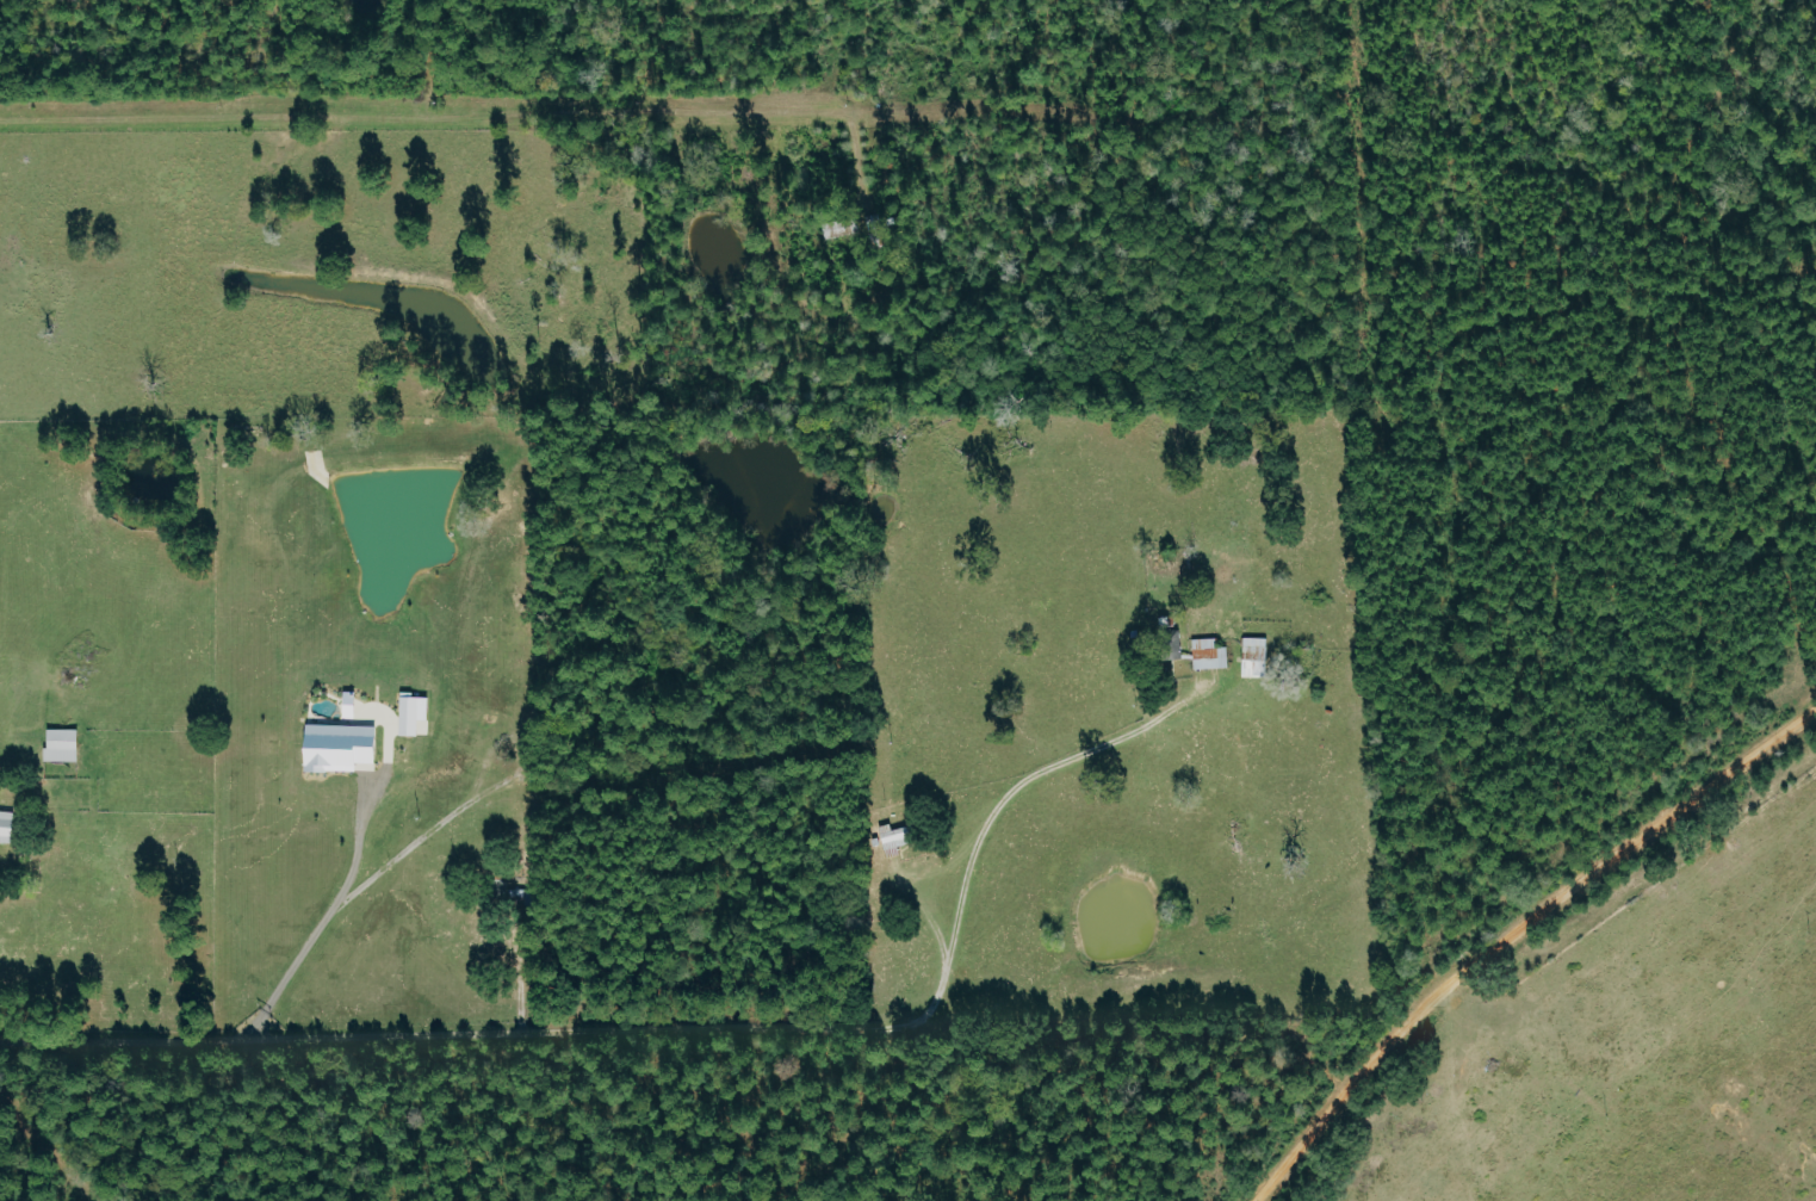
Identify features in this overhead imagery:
building: (1205, 654)
building: (1251, 657)
building: (417, 714)
building: (66, 744)
building: (345, 747)
building: (8, 824)
road: (318, 920)
road: (1511, 925)
road: (516, 973)
road: (421, 1034)

